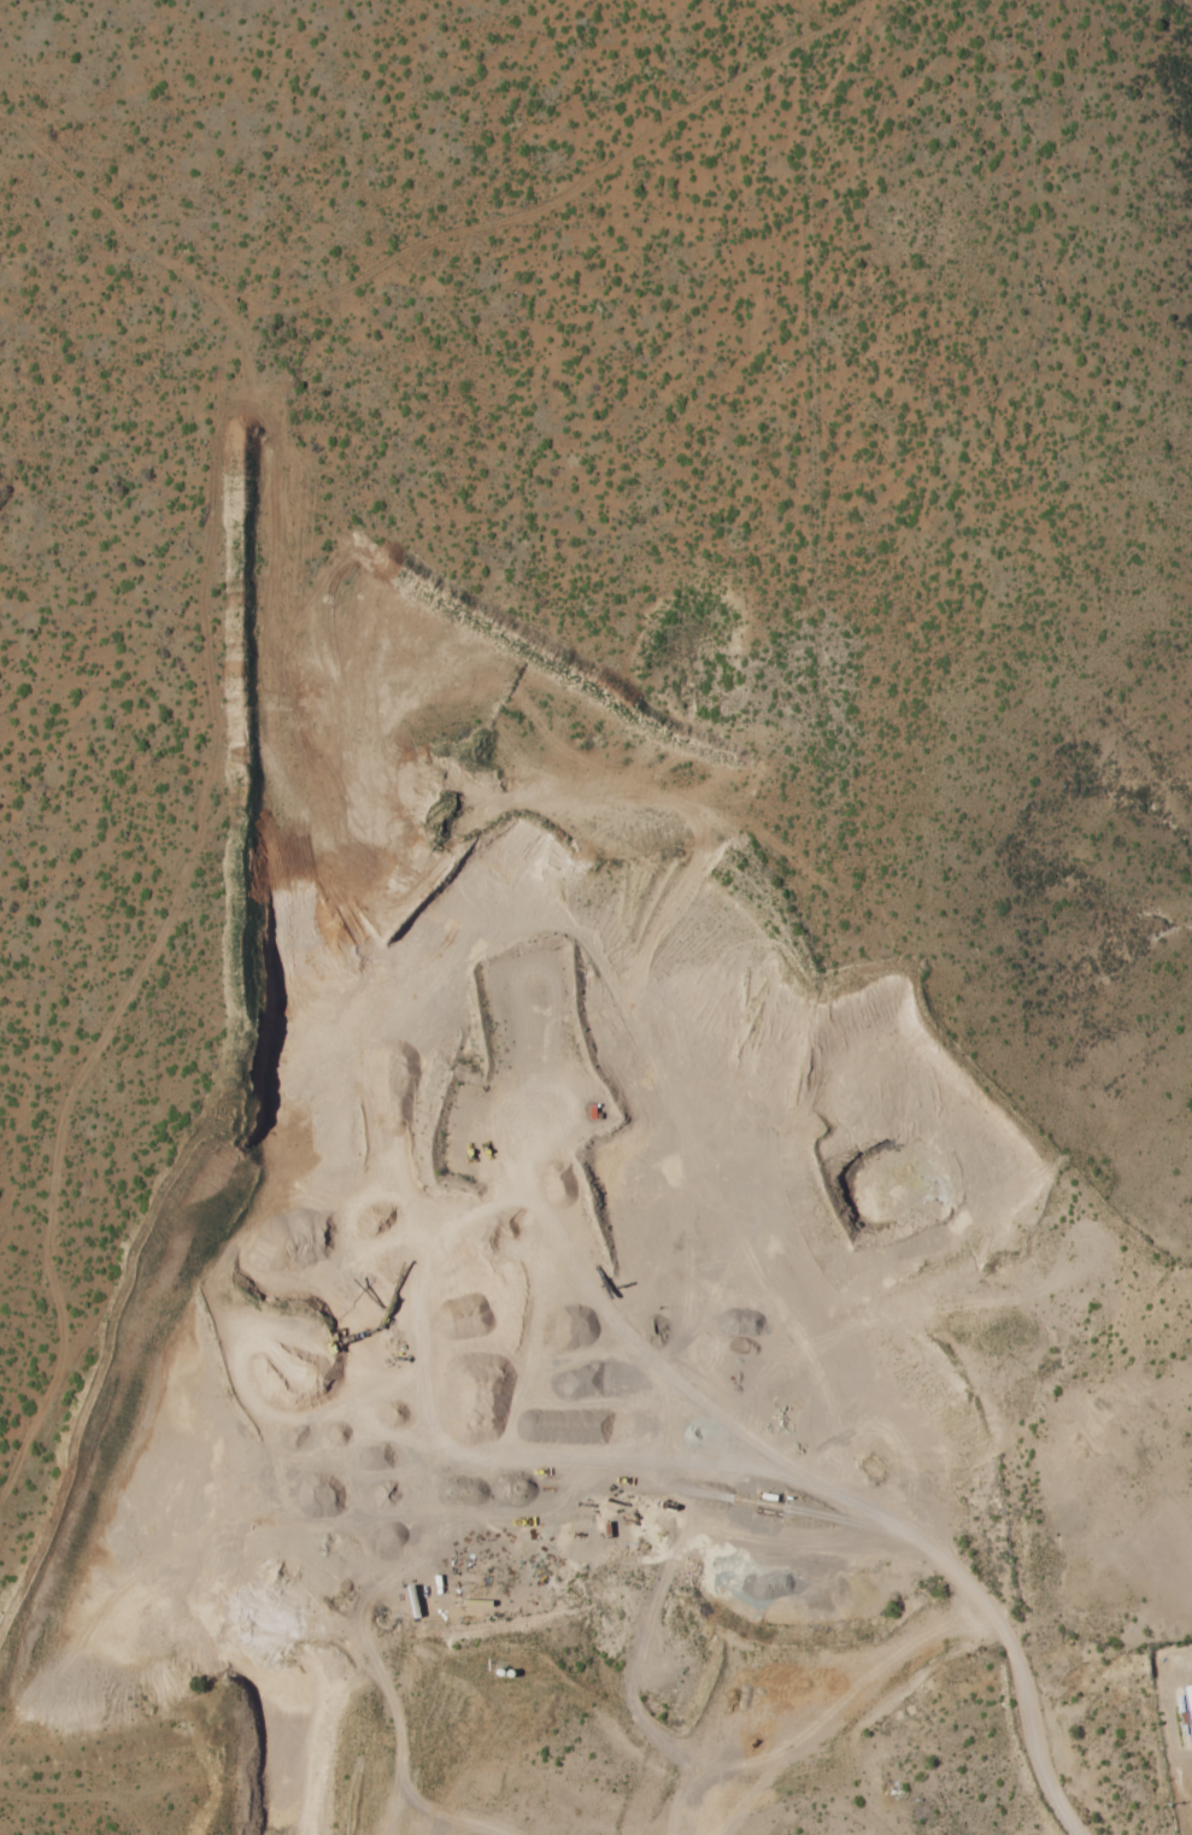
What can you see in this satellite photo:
road: (808, 356)

